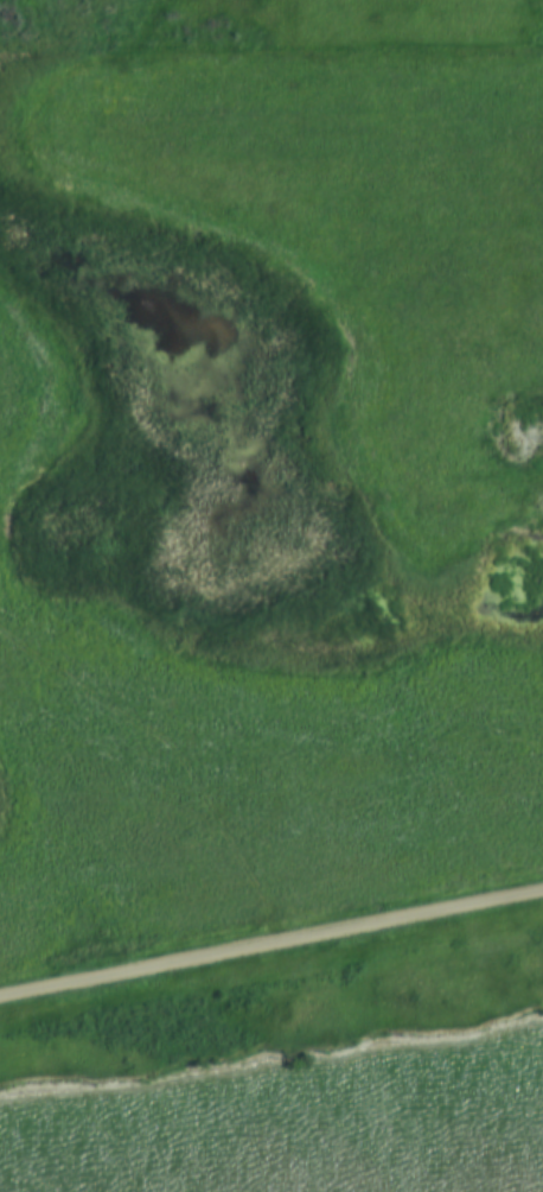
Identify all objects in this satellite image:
road: (271, 955)

